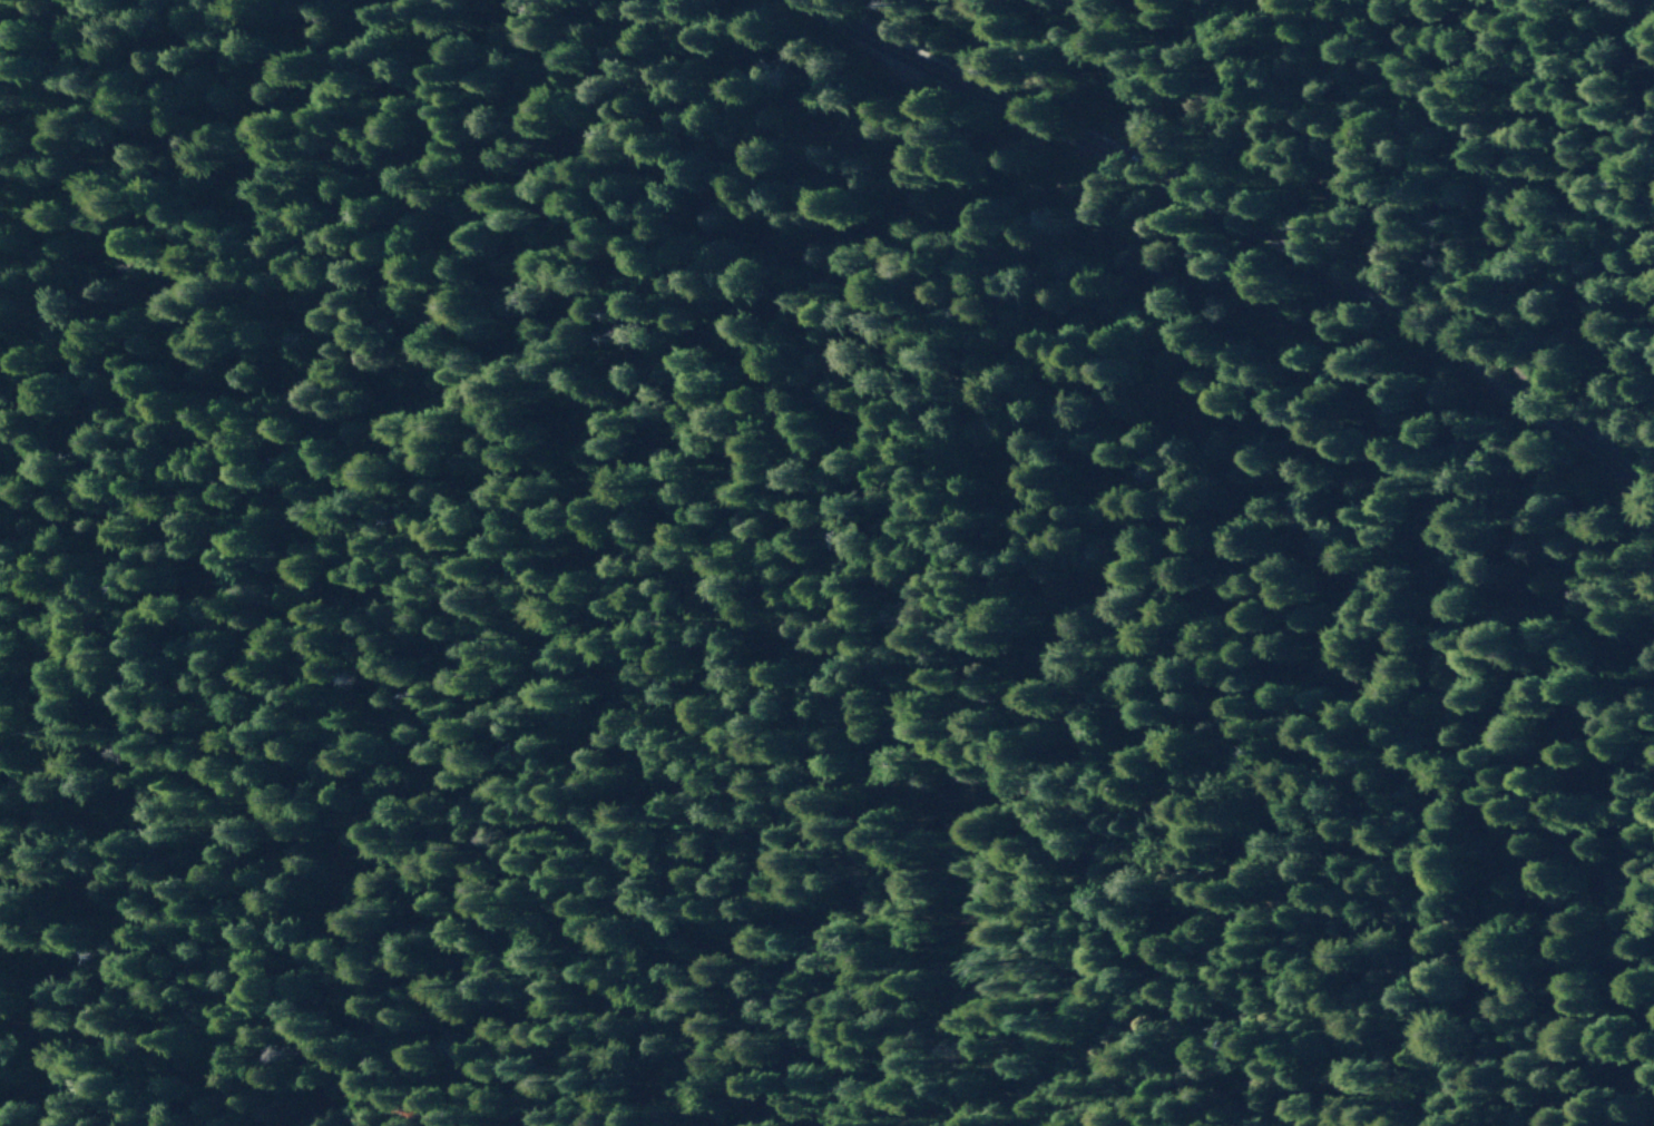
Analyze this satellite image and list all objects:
road: (1206, 231)
road: (947, 316)
road: (1041, 745)

